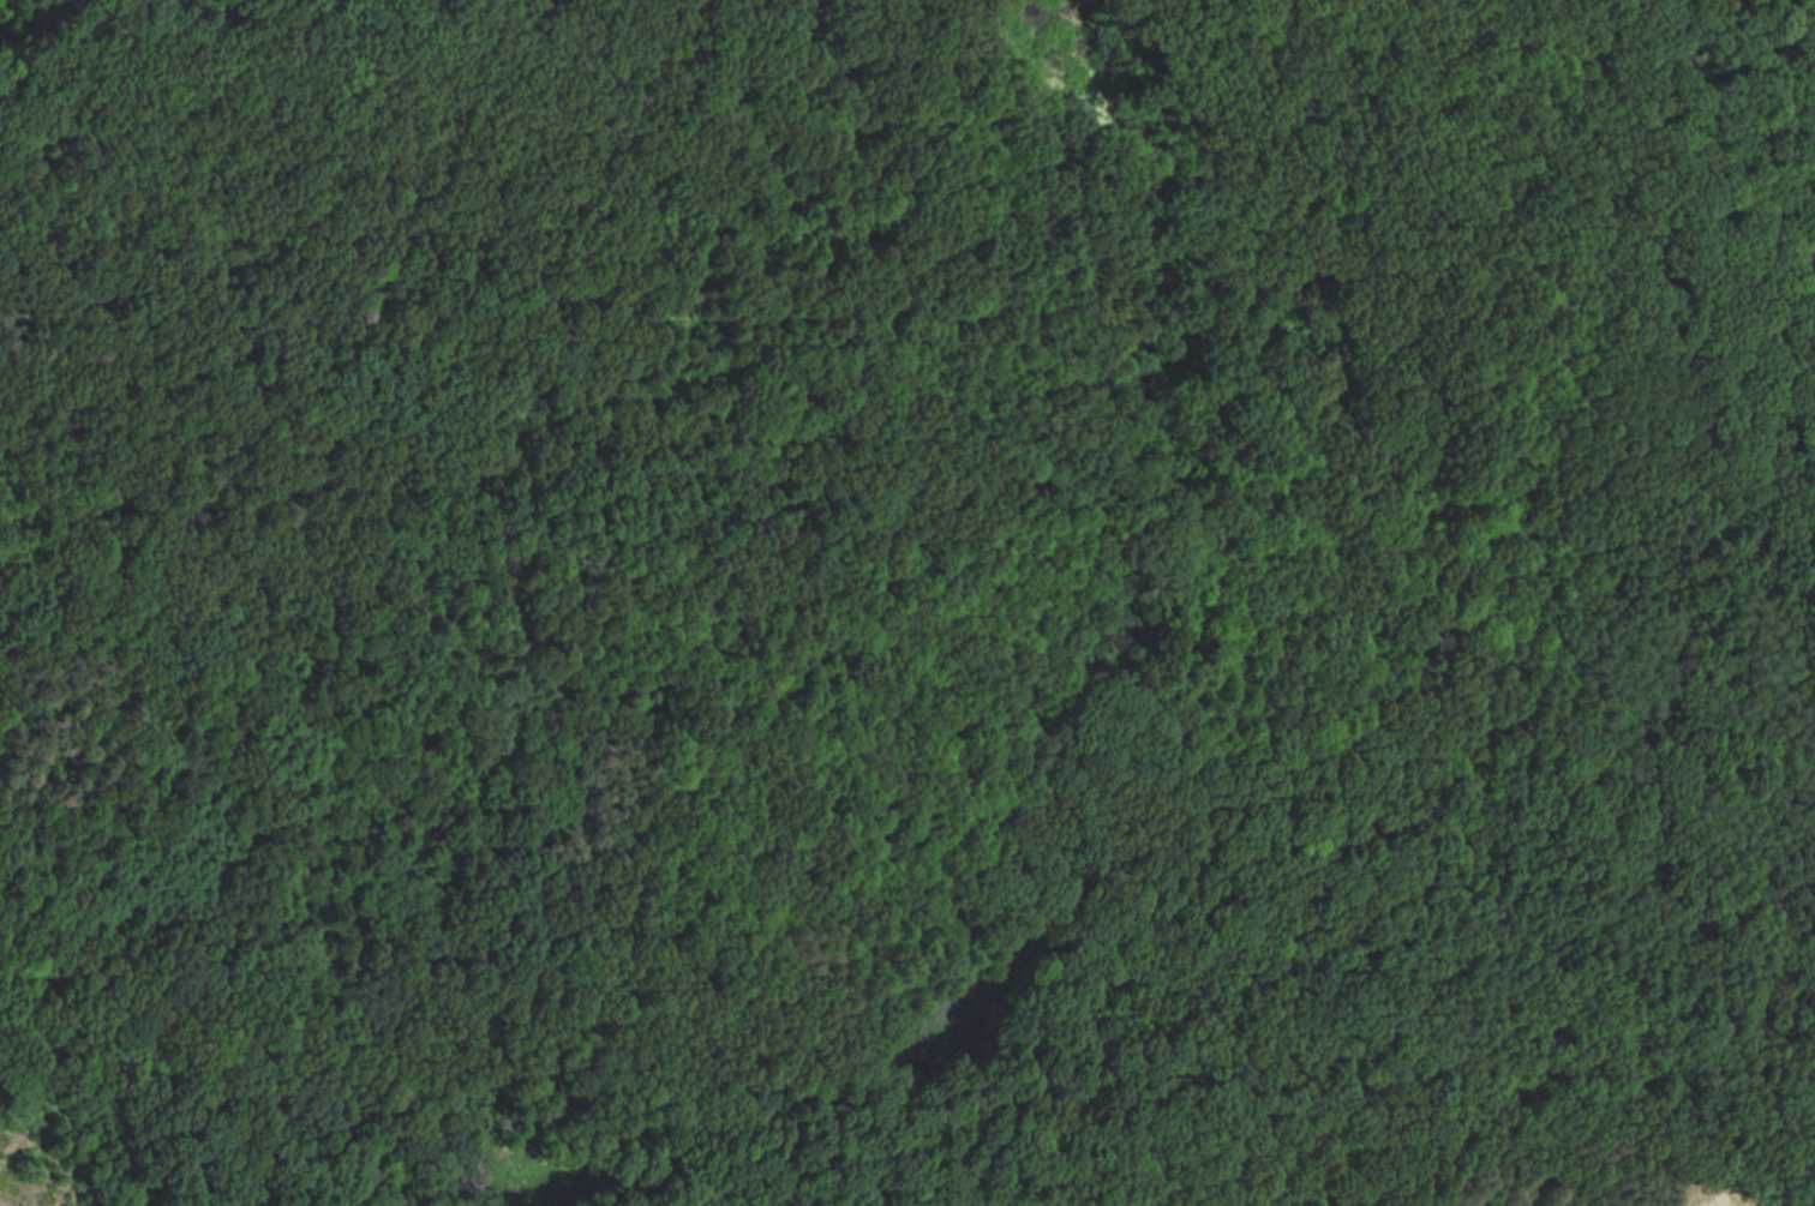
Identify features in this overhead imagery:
road: (1532, 8)
park: (907, 602)
road: (36, 1129)
quarry: (66, 1158)
road: (228, 1180)

